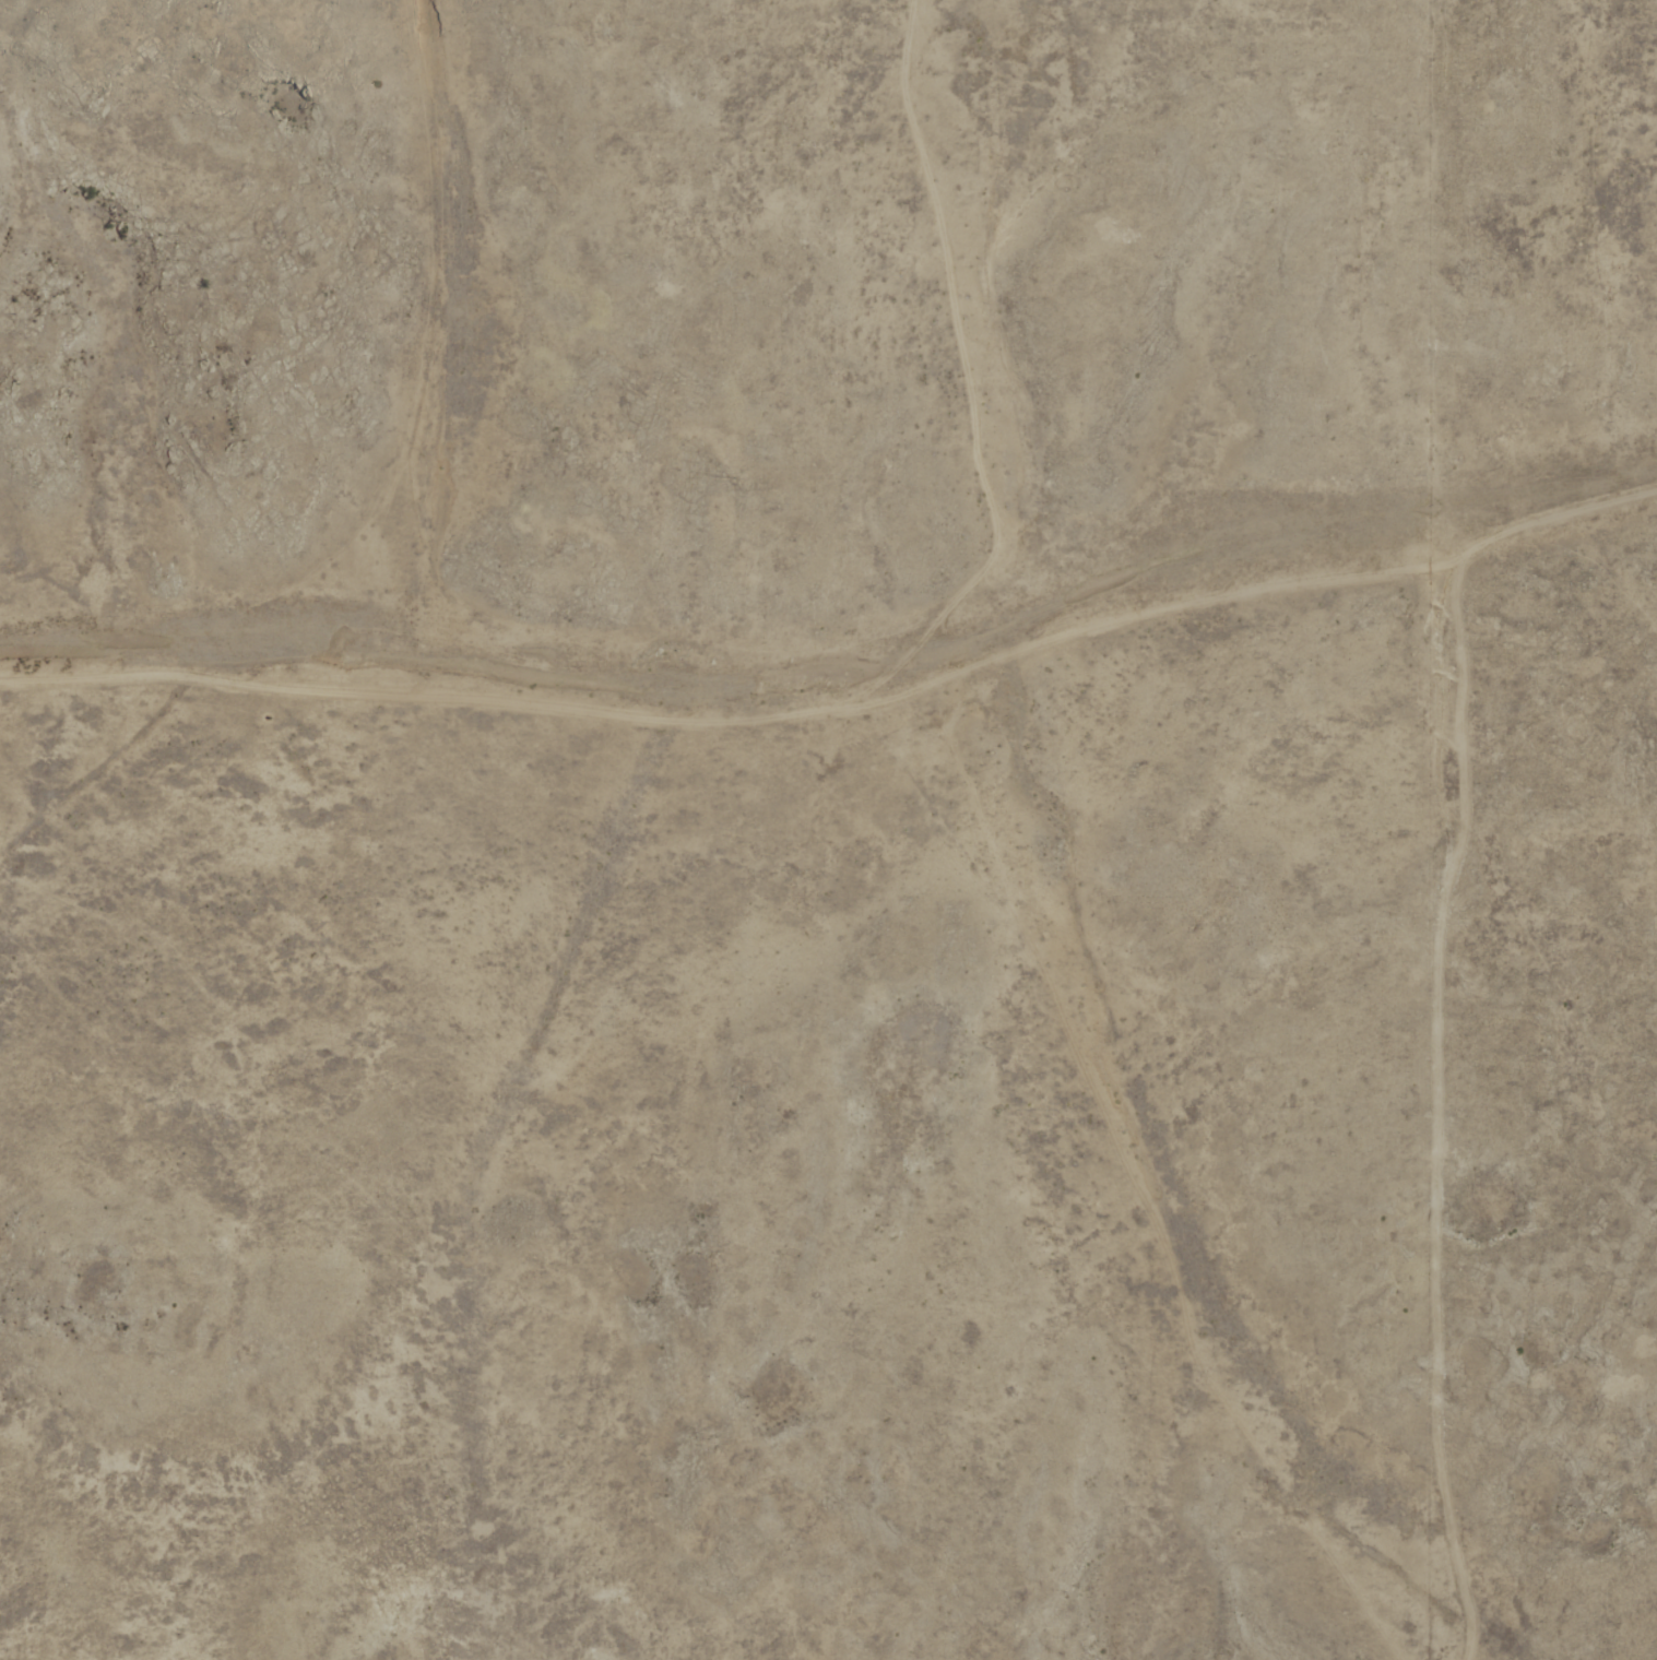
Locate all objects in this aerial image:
road: (843, 711)
road: (1436, 1112)

